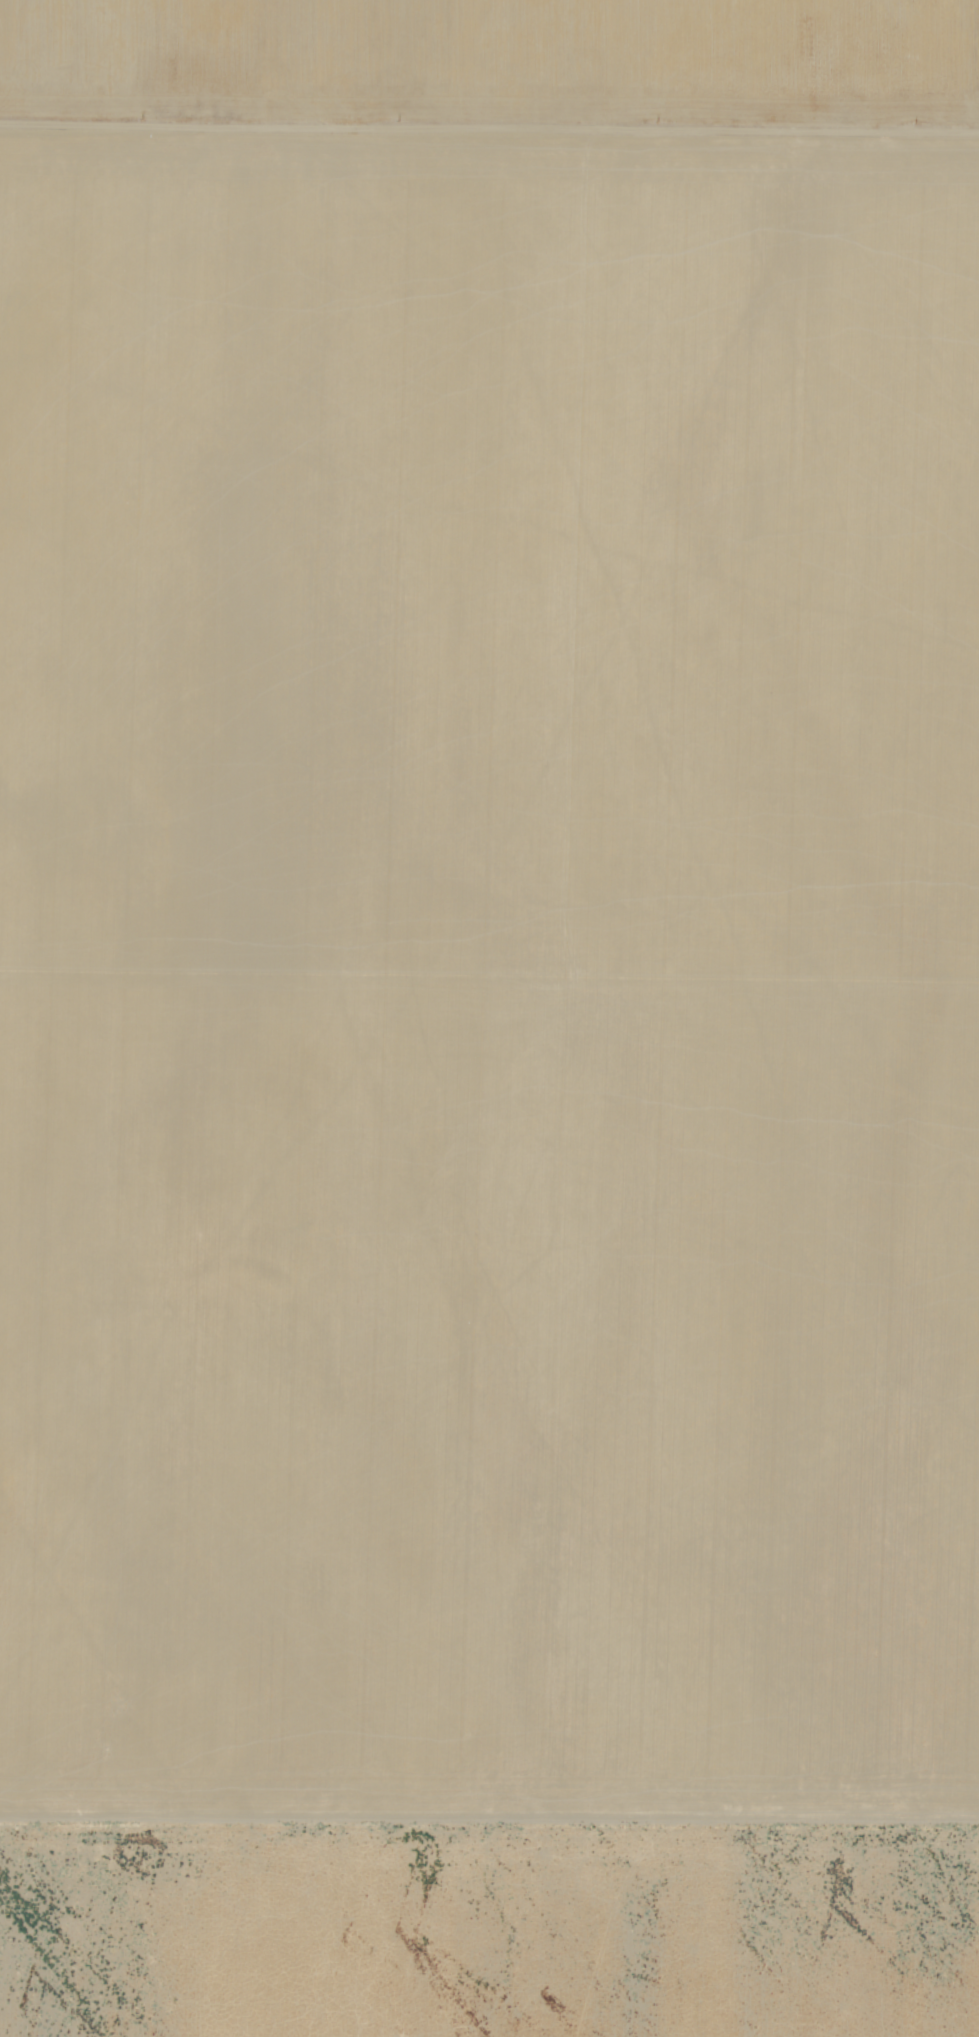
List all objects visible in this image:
road: (489, 137)
road: (489, 1841)

